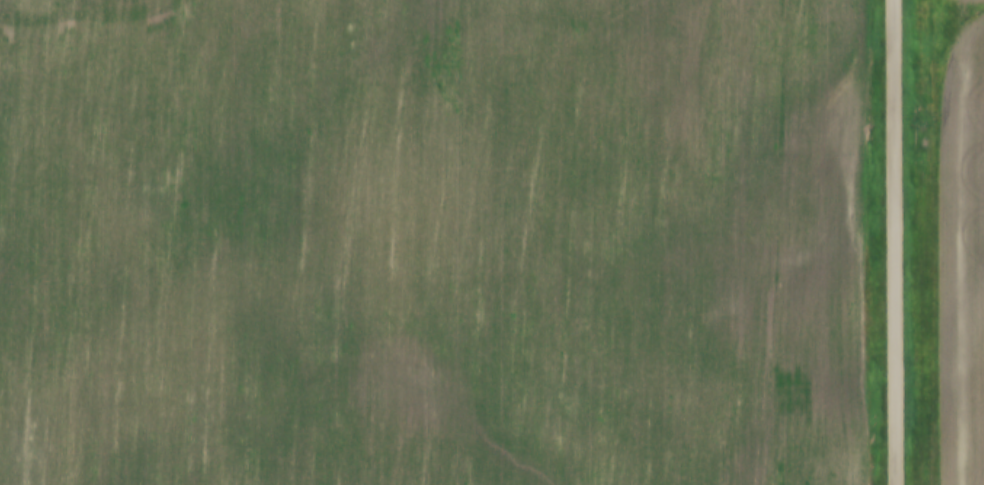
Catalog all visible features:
road: (893, 242)

